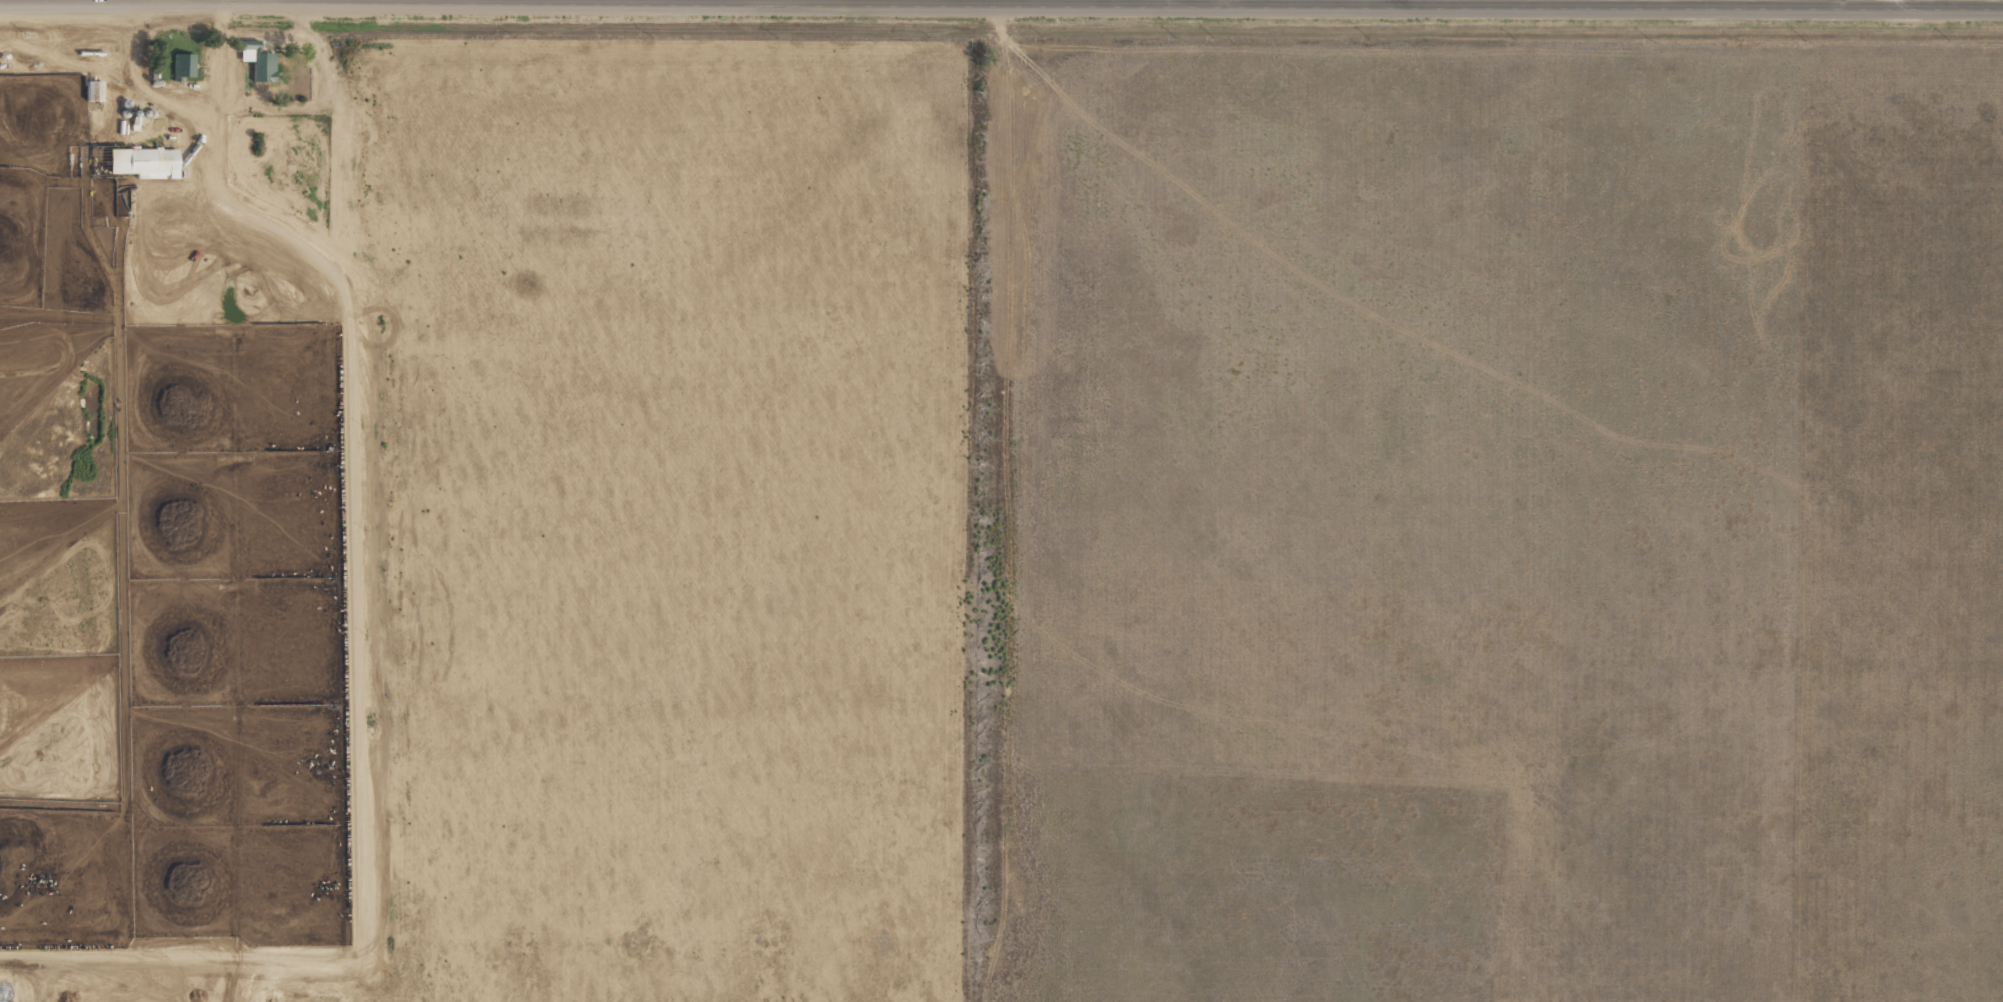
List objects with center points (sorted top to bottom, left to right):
road: (1931, 3)
road: (1394, 4)
road: (1001, 5)
building: (182, 65)
building: (91, 91)
building: (149, 161)
road: (318, 183)

